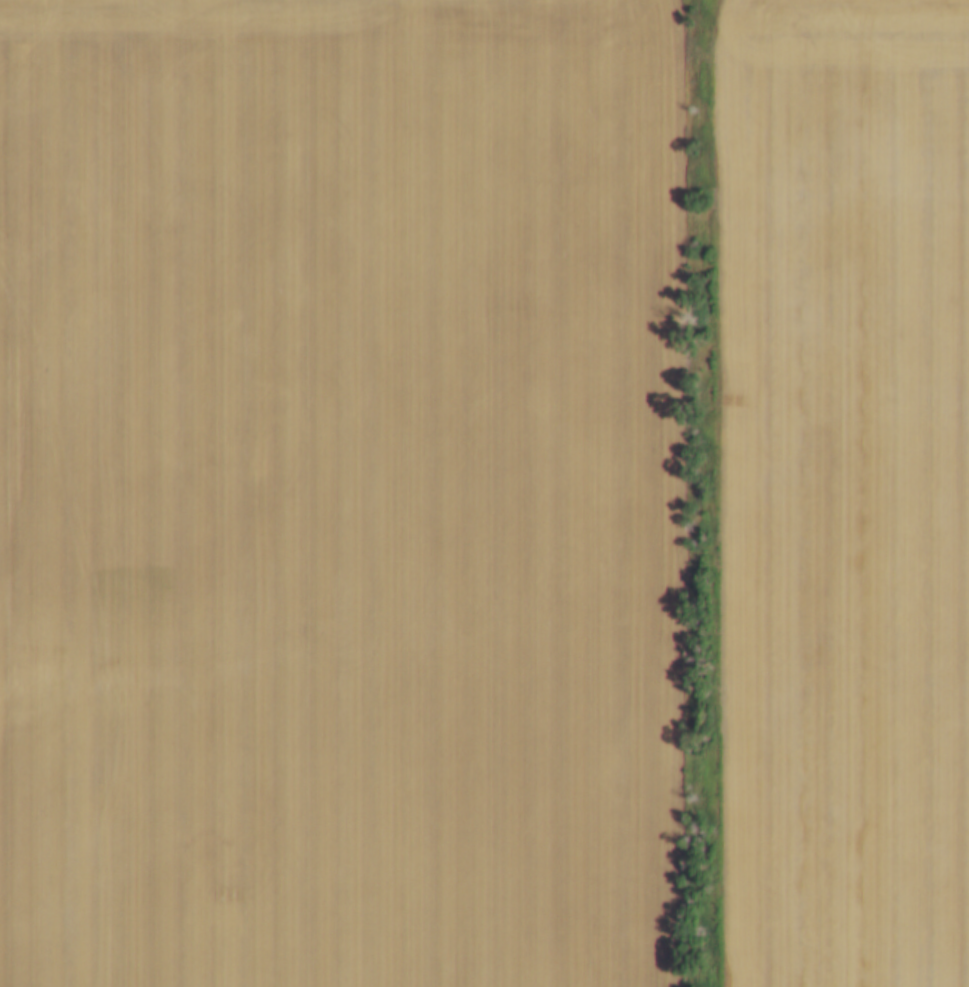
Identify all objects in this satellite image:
road: (677, 493)

